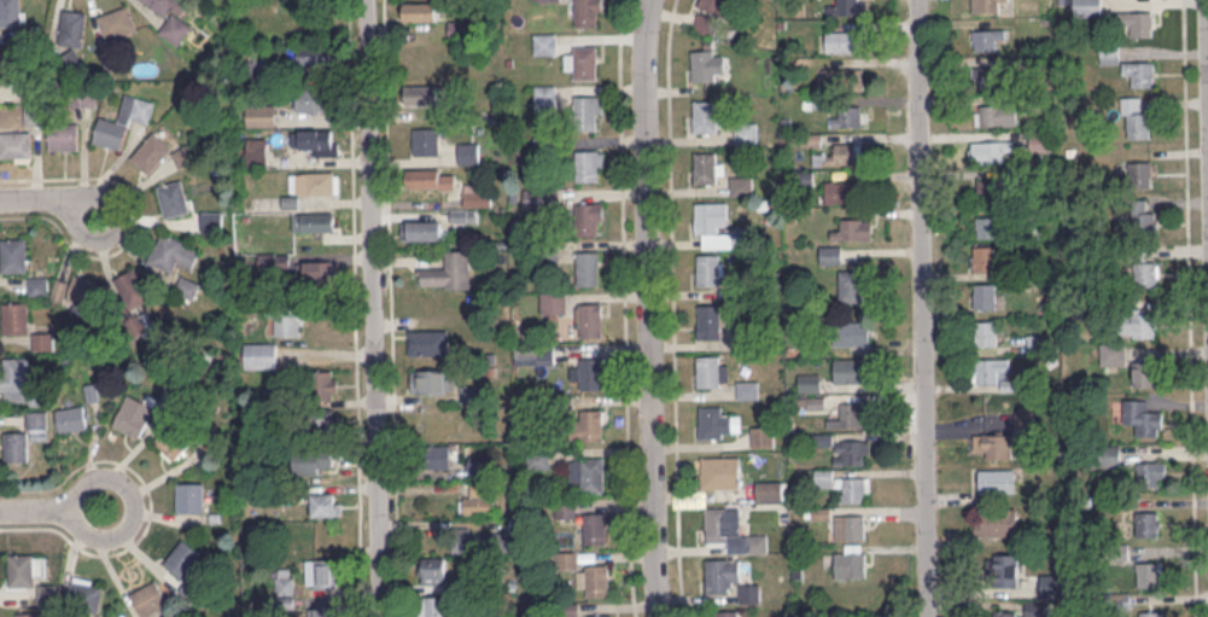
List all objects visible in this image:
building: (548, 0)
building: (713, 5)
building: (986, 5)
building: (846, 7)
building: (1086, 7)
building: (420, 11)
building: (11, 12)
building: (588, 13)
building: (173, 18)
building: (117, 22)
building: (1139, 22)
building: (706, 23)
building: (72, 27)
building: (457, 28)
building: (987, 39)
building: (841, 41)
building: (545, 45)
building: (314, 54)
building: (584, 63)
building: (708, 64)
building: (7, 66)
building: (1140, 72)
building: (987, 76)
building: (840, 77)
building: (422, 94)
building: (545, 97)
building: (313, 99)
building: (587, 113)
building: (261, 115)
building: (996, 115)
building: (706, 116)
building: (851, 116)
building: (123, 121)
building: (1139, 126)
building: (746, 132)
building: (64, 136)
building: (426, 140)
building: (317, 141)
building: (16, 144)
building: (994, 150)
building: (257, 151)
building: (152, 152)
building: (468, 152)
building: (838, 153)
building: (183, 156)
building: (588, 165)
building: (705, 167)
building: (1140, 173)
building: (432, 177)
building: (315, 182)
building: (741, 186)
building: (992, 187)
building: (840, 191)
building: (174, 198)
road: (49, 199)
building: (1142, 215)
building: (588, 217)
building: (707, 217)
building: (316, 221)
road: (138, 223)
building: (436, 225)
building: (988, 226)
building: (854, 228)
building: (174, 252)
building: (830, 254)
building: (14, 255)
building: (985, 257)
building: (588, 268)
building: (708, 269)
building: (320, 270)
building: (449, 270)
building: (1146, 273)
building: (39, 285)
building: (852, 285)
building: (134, 287)
building: (188, 287)
building: (78, 291)
building: (986, 295)
building: (553, 302)
road: (355, 308)
road: (373, 308)
road: (392, 308)
road: (625, 308)
road: (648, 308)
road: (672, 308)
road: (921, 308)
road: (1190, 308)
building: (17, 316)
building: (591, 319)
building: (710, 321)
building: (290, 322)
building: (1142, 322)
building: (986, 332)
building: (852, 333)
building: (428, 342)
building: (262, 355)
building: (991, 368)
building: (851, 369)
building: (708, 371)
building: (591, 373)
building: (1143, 373)
building: (433, 380)
building: (19, 382)
building: (809, 382)
building: (326, 384)
building: (135, 414)
building: (850, 415)
building: (1142, 417)
building: (72, 418)
building: (711, 423)
building: (589, 426)
building: (27, 436)
building: (763, 436)
building: (175, 441)
building: (997, 444)
building: (851, 452)
building: (1113, 455)
building: (437, 456)
building: (538, 458)
building: (315, 461)
building: (475, 462)
building: (594, 473)
building: (713, 473)
building: (1151, 473)
building: (997, 479)
building: (845, 485)
building: (770, 489)
building: (191, 496)
building: (479, 501)
building: (326, 504)
road: (151, 506)
road: (53, 507)
building: (566, 507)
building: (997, 522)
building: (716, 523)
building: (1148, 523)
building: (595, 526)
building: (850, 526)
building: (469, 540)
building: (185, 558)
building: (851, 561)
building: (25, 569)
building: (433, 569)
building: (1003, 569)
building: (323, 572)
building: (716, 574)
building: (1149, 574)
building: (597, 580)
building: (749, 593)
building: (86, 594)
building: (150, 598)
building: (436, 606)
building: (1038, 609)
building: (325, 611)
building: (726, 612)
building: (29, 613)
building: (1004, 613)
building: (1152, 613)
building: (600, 615)

